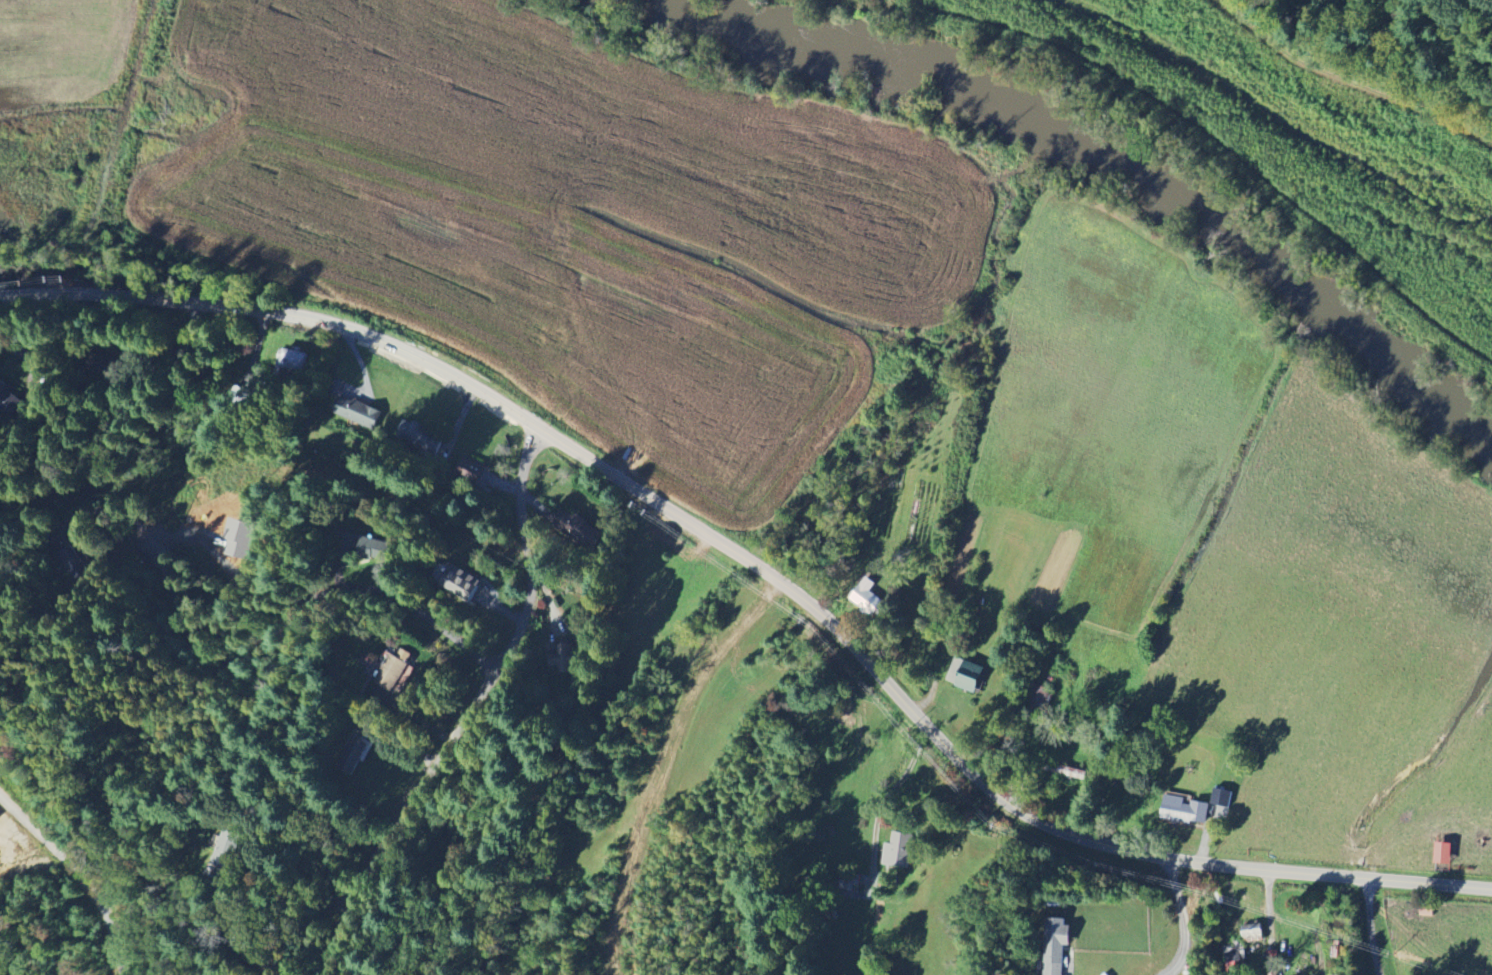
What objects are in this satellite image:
river: (856, 70)
river: (1280, 283)
building: (291, 364)
building: (353, 411)
building: (414, 434)
road: (113, 511)
building: (578, 529)
road: (764, 570)
building: (456, 581)
building: (866, 598)
road: (304, 606)
building: (565, 656)
building: (391, 671)
building: (964, 674)
road: (475, 711)
building: (1221, 798)
road: (883, 801)
building: (1184, 810)
building: (897, 850)
building: (1442, 852)
road: (79, 874)
building: (848, 881)
road: (1185, 919)
road: (1370, 926)
building: (1252, 933)
building: (1054, 945)
road: (290, 956)
building: (1271, 956)

